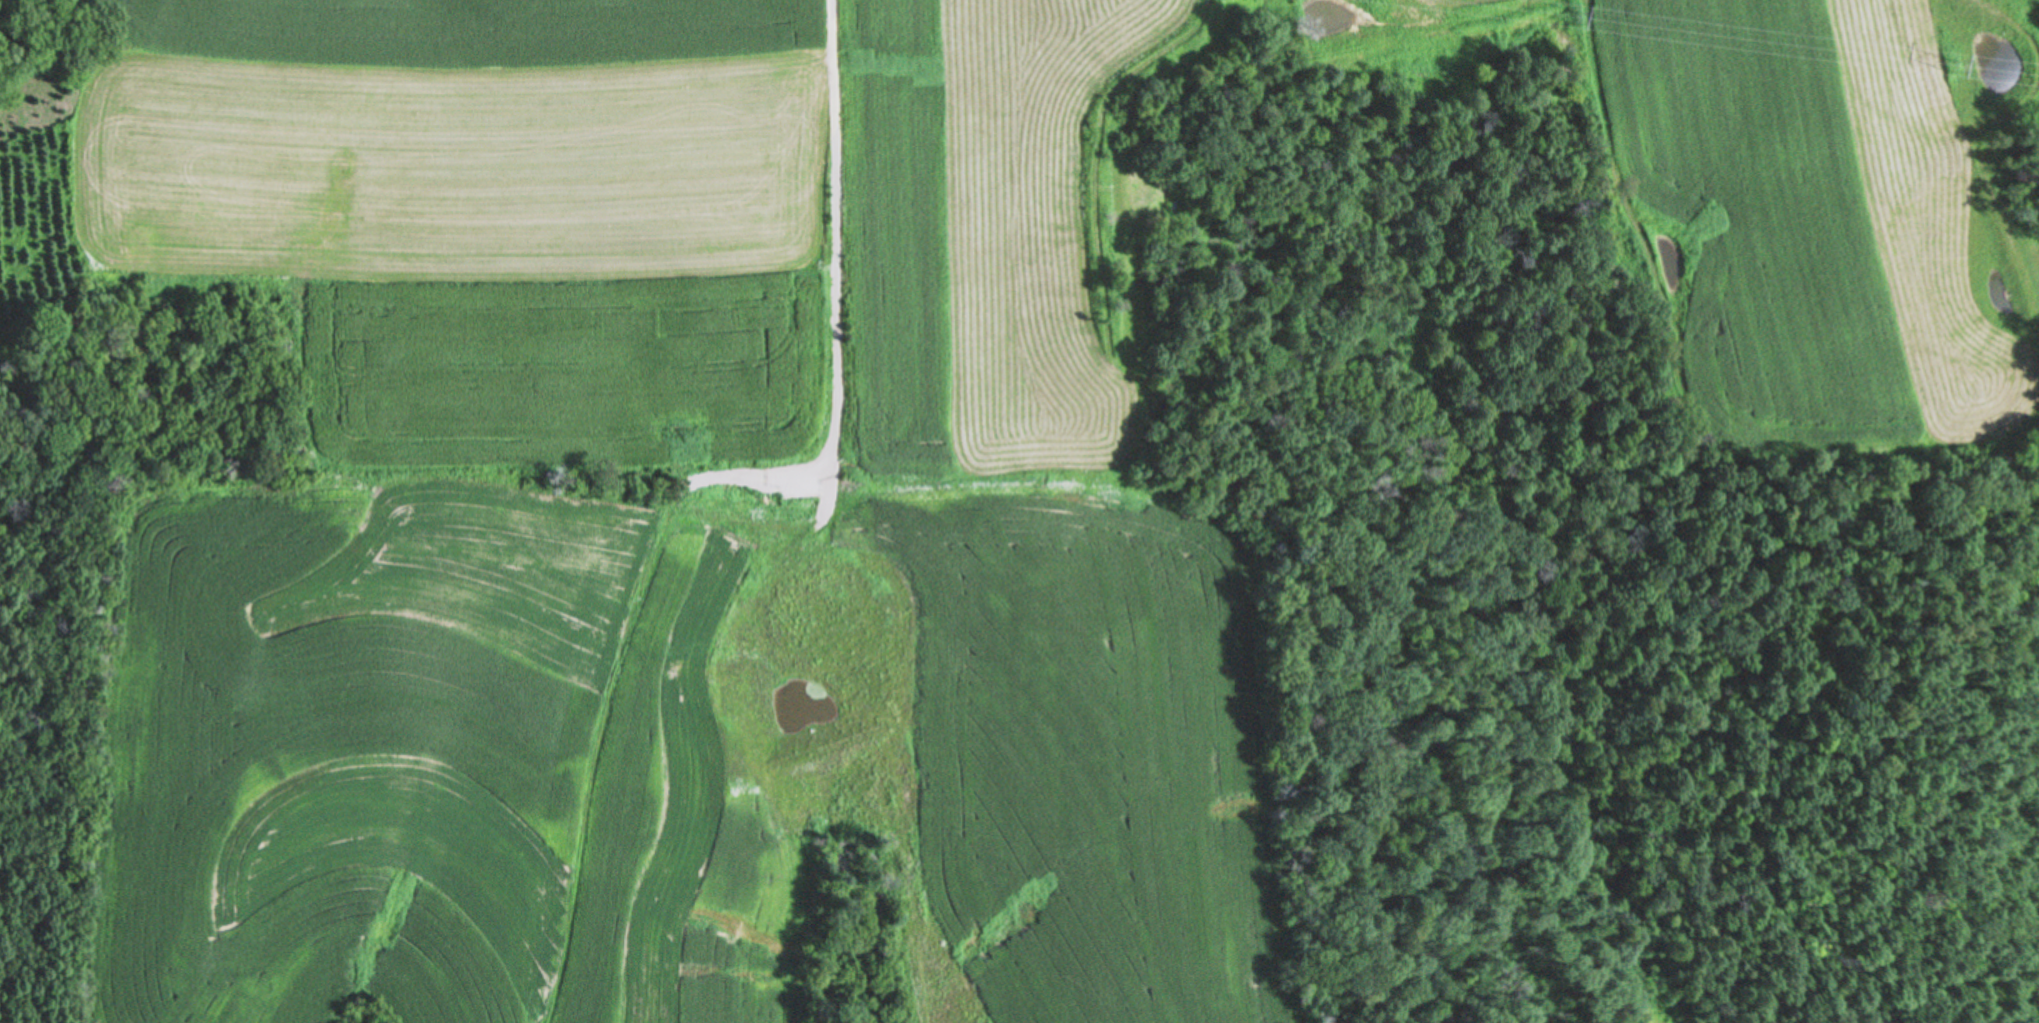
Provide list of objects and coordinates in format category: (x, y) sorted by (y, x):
power tower: (1574, 17)
power tower: (1952, 65)

